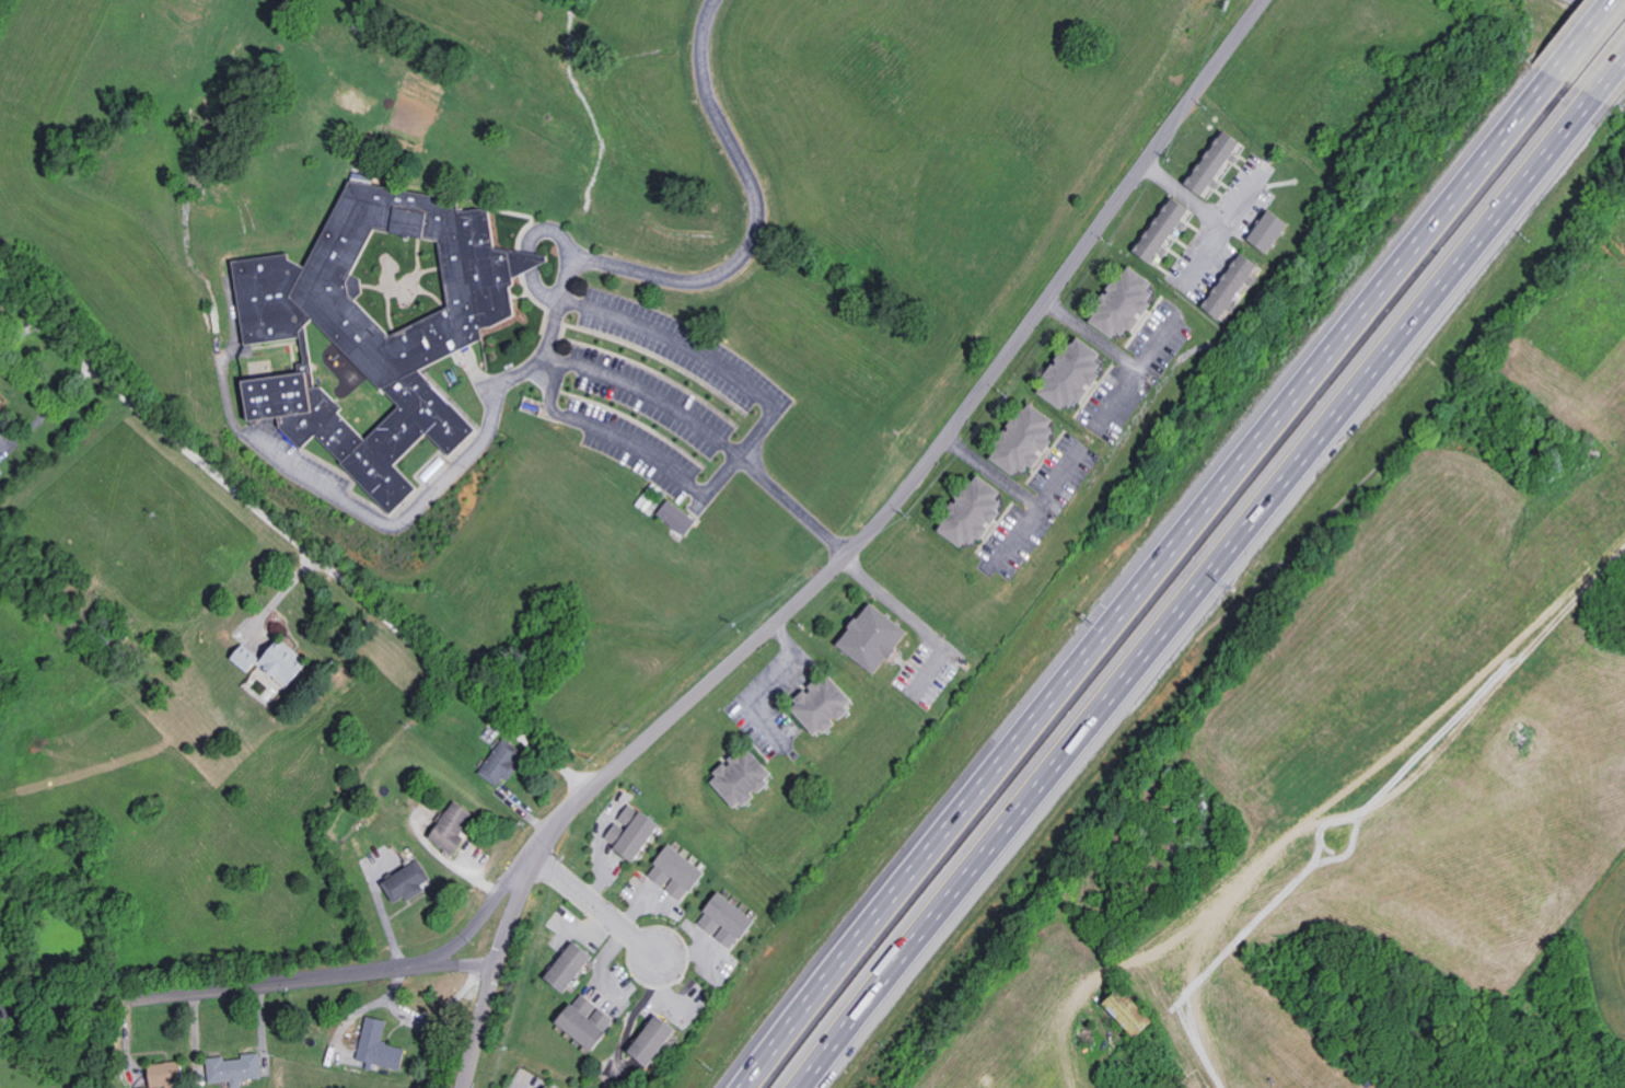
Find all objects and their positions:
road: (1606, 8)
road: (1572, 36)
road: (1614, 90)
building: (1206, 163)
road: (1241, 198)
road: (755, 211)
road: (1206, 212)
building: (1153, 231)
building: (1261, 231)
building: (1114, 303)
building: (384, 320)
road: (1118, 351)
building: (1063, 373)
road: (1119, 394)
building: (1, 397)
road: (670, 409)
building: (1013, 440)
road: (1058, 478)
road: (1014, 489)
building: (964, 510)
building: (682, 517)
road: (294, 545)
road: (856, 548)
road: (1144, 580)
road: (1208, 594)
road: (913, 620)
building: (863, 638)
building: (248, 658)
building: (289, 663)
road: (775, 678)
building: (813, 704)
building: (503, 761)
building: (733, 777)
building: (455, 826)
building: (638, 831)
building: (682, 871)
building: (410, 881)
road: (603, 882)
road: (594, 907)
road: (639, 908)
road: (489, 910)
building: (733, 918)
road: (592, 924)
road: (685, 951)
road: (603, 963)
building: (574, 965)
road: (248, 983)
road: (663, 986)
building: (1136, 1011)
building: (592, 1020)
building: (660, 1038)
building: (382, 1045)
building: (237, 1068)
building: (171, 1074)
building: (553, 1087)

